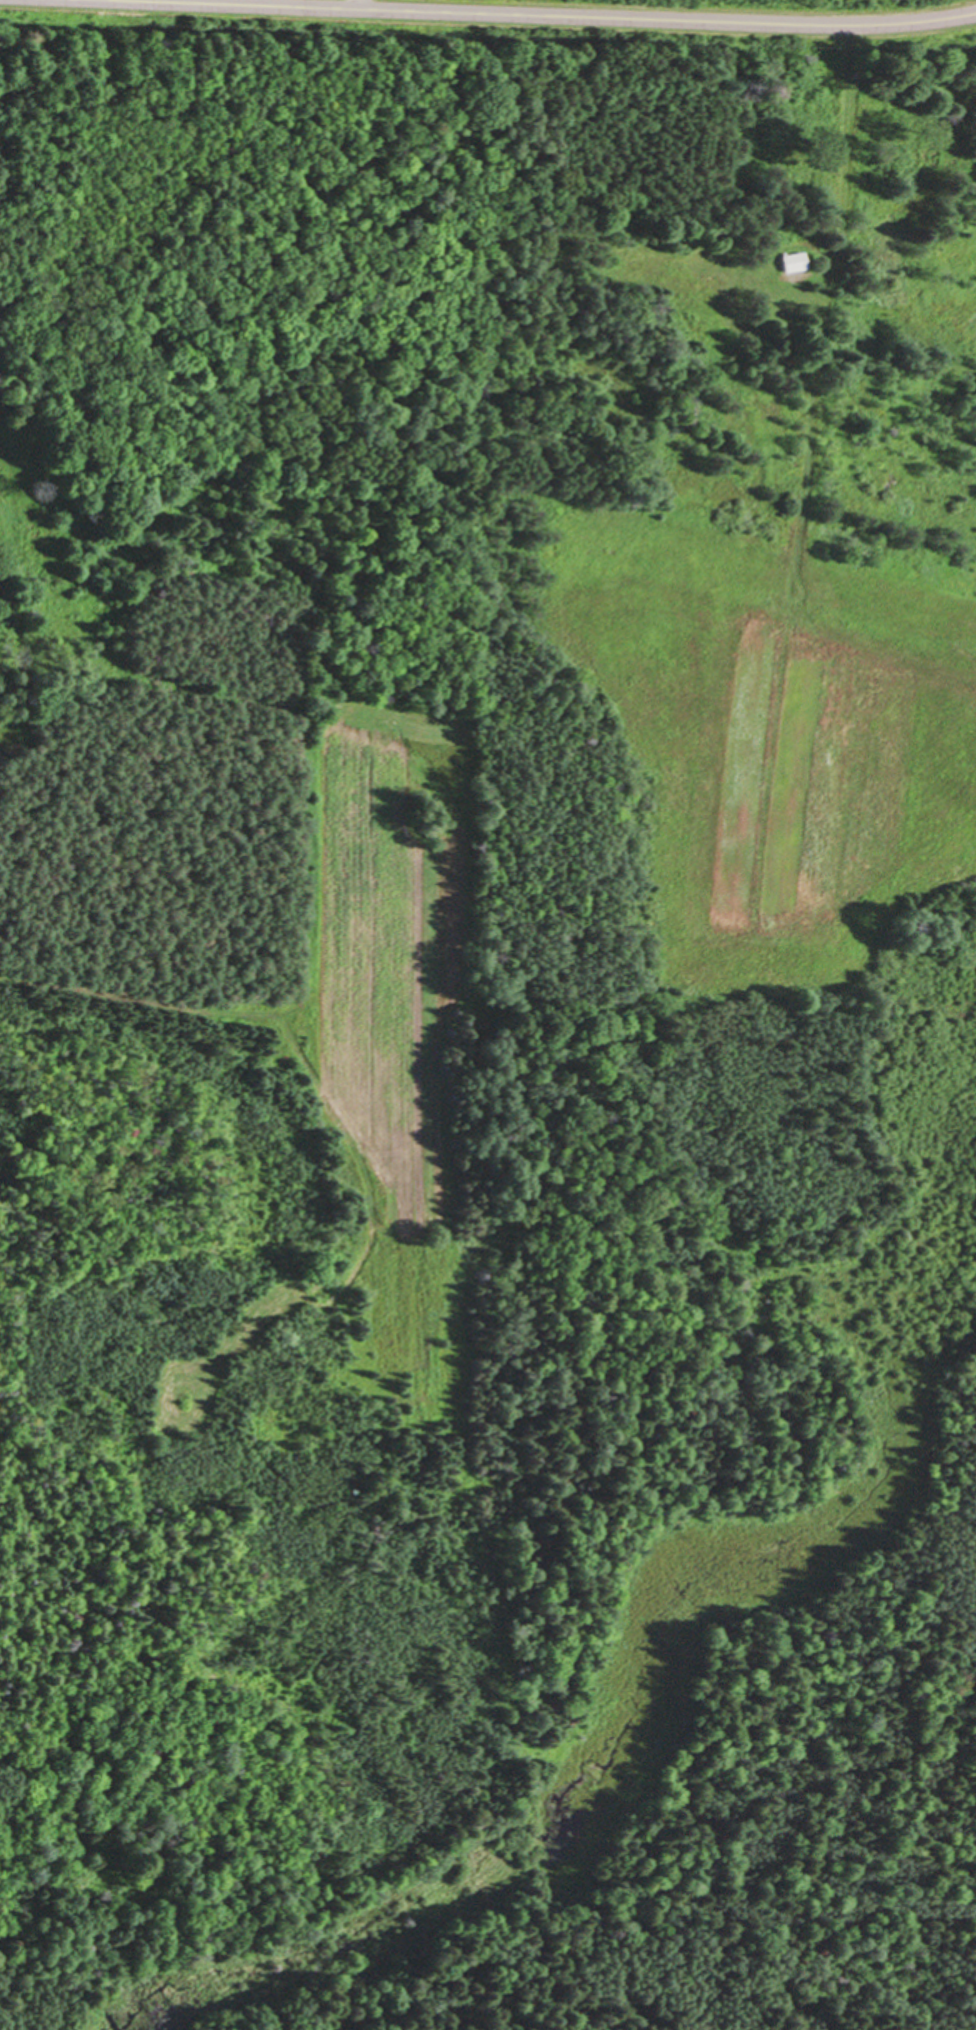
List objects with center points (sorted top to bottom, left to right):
road: (364, 4)
road: (549, 16)

